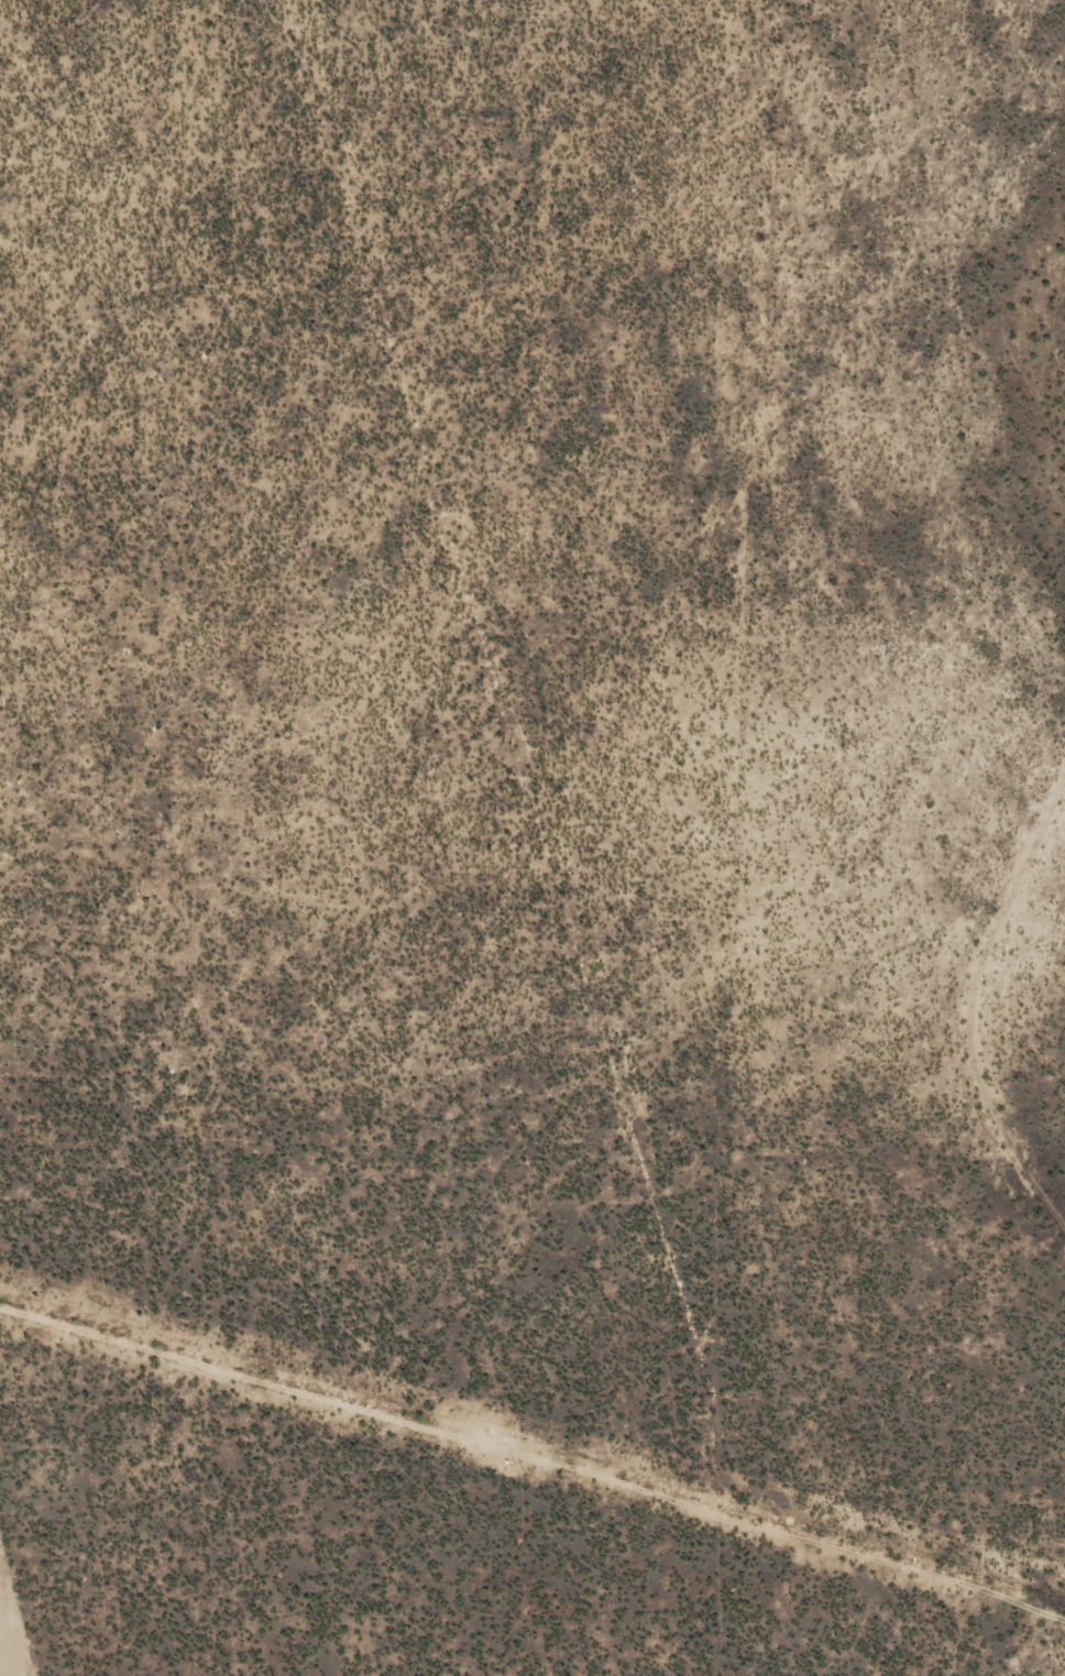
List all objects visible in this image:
road: (1043, 97)
road: (1034, 803)

